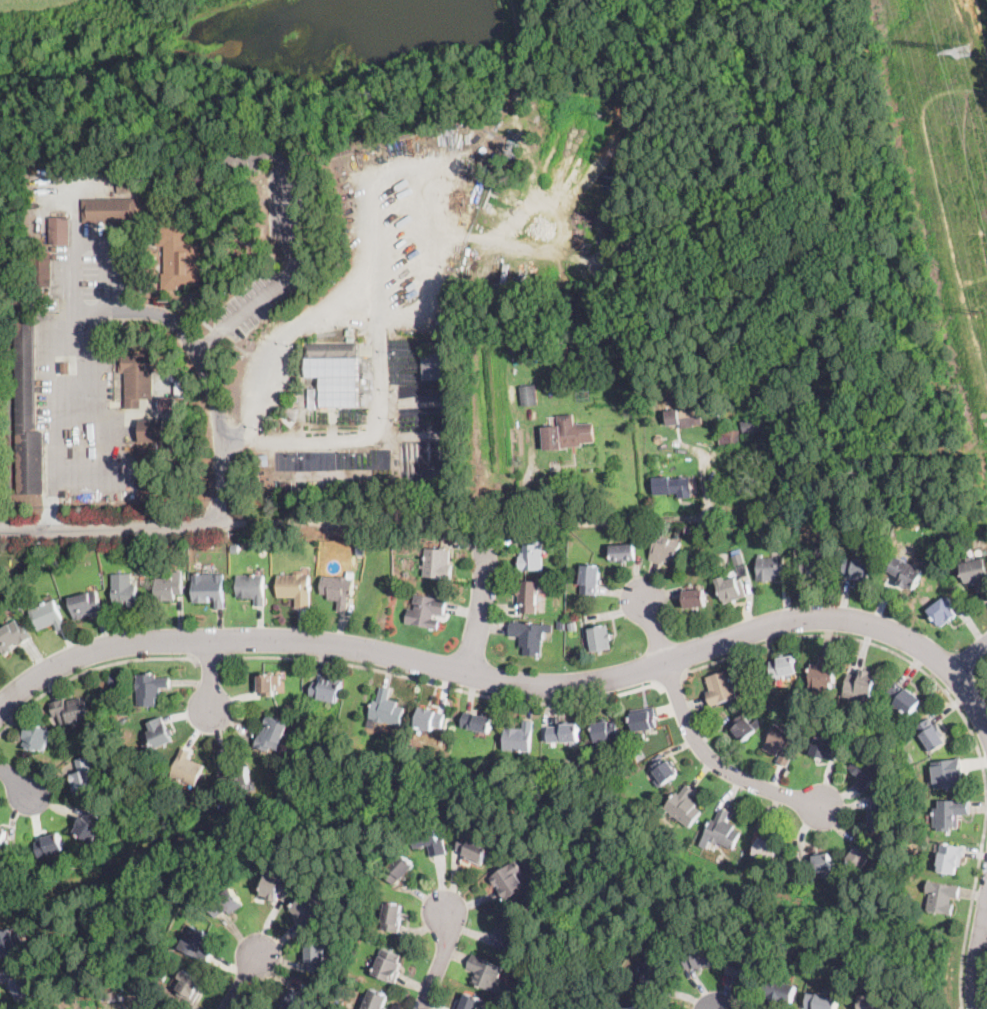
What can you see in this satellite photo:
road: (620, 21)
road: (980, 27)
power tower: (962, 51)
road: (516, 57)
building: (122, 172)
building: (110, 210)
road: (943, 212)
building: (151, 220)
building: (59, 231)
park: (481, 241)
building: (178, 256)
road: (292, 258)
building: (41, 270)
power tower: (978, 311)
road: (193, 343)
building: (512, 343)
road: (278, 345)
building: (330, 350)
building: (434, 365)
building: (66, 368)
building: (309, 370)
building: (139, 377)
building: (329, 385)
building: (349, 385)
building: (180, 386)
road: (379, 390)
building: (681, 392)
building: (513, 393)
building: (528, 395)
building: (312, 396)
road: (98, 397)
road: (51, 401)
building: (167, 407)
building: (27, 411)
building: (684, 418)
building: (753, 425)
building: (150, 429)
building: (567, 434)
building: (727, 437)
building: (657, 439)
building: (264, 458)
building: (146, 471)
road: (347, 472)
building: (322, 475)
building: (286, 484)
building: (672, 486)
building: (748, 487)
building: (784, 487)
road: (467, 522)
road: (111, 524)
building: (690, 528)
building: (565, 536)
building: (361, 548)
building: (663, 549)
building: (909, 550)
building: (622, 552)
building: (37, 558)
building: (531, 558)
building: (738, 559)
building: (945, 561)
building: (55, 564)
building: (437, 564)
building: (818, 566)
building: (770, 568)
building: (104, 569)
building: (701, 569)
building: (858, 569)
building: (906, 572)
building: (974, 572)
building: (937, 578)
building: (590, 579)
building: (168, 587)
building: (251, 588)
building: (209, 589)
building: (295, 589)
building: (338, 589)
building: (728, 589)
building: (124, 590)
building: (528, 596)
building: (694, 598)
building: (85, 605)
road: (480, 609)
building: (426, 610)
building: (943, 612)
building: (47, 616)
building: (561, 624)
building: (572, 627)
building: (530, 636)
building: (12, 637)
building: (599, 639)
road: (969, 657)
road: (208, 659)
building: (783, 667)
road: (90, 669)
road: (210, 675)
building: (823, 675)
building: (896, 676)
building: (112, 680)
road: (672, 680)
road: (506, 682)
building: (268, 684)
road: (441, 685)
building: (862, 685)
building: (759, 686)
building: (149, 688)
building: (720, 688)
building: (326, 689)
building: (903, 700)
road: (957, 707)
building: (386, 709)
building: (771, 709)
building: (72, 710)
building: (429, 719)
building: (642, 720)
building: (298, 722)
building: (476, 722)
building: (744, 727)
building: (605, 731)
building: (159, 733)
building: (563, 733)
building: (931, 734)
building: (36, 736)
building: (272, 736)
building: (518, 738)
road: (696, 740)
building: (781, 743)
building: (824, 749)
building: (906, 758)
building: (594, 761)
building: (185, 769)
building: (865, 771)
building: (664, 772)
building: (948, 773)
building: (83, 776)
building: (235, 776)
road: (16, 779)
building: (148, 786)
building: (683, 806)
building: (949, 813)
building: (878, 818)
building: (89, 825)
building: (722, 830)
building: (3, 839)
building: (429, 840)
building: (49, 844)
building: (474, 849)
building: (767, 850)
building: (859, 858)
building: (950, 858)
building: (822, 866)
building: (399, 869)
building: (508, 881)
building: (276, 887)
building: (941, 897)
building: (226, 904)
building: (308, 910)
building: (392, 916)
building: (508, 937)
building: (11, 942)
building: (197, 944)
building: (316, 955)
building: (698, 958)
road: (441, 962)
building: (388, 966)
road: (978, 967)
building: (742, 969)
building: (485, 973)
building: (162, 977)
building: (653, 978)
road: (243, 980)
building: (190, 986)
building: (23, 987)
building: (779, 992)
building: (376, 1000)
building: (291, 1001)
building: (821, 1001)
building: (107, 1002)
building: (872, 1002)
building: (475, 1003)
building: (629, 1008)
road: (741, 1008)

